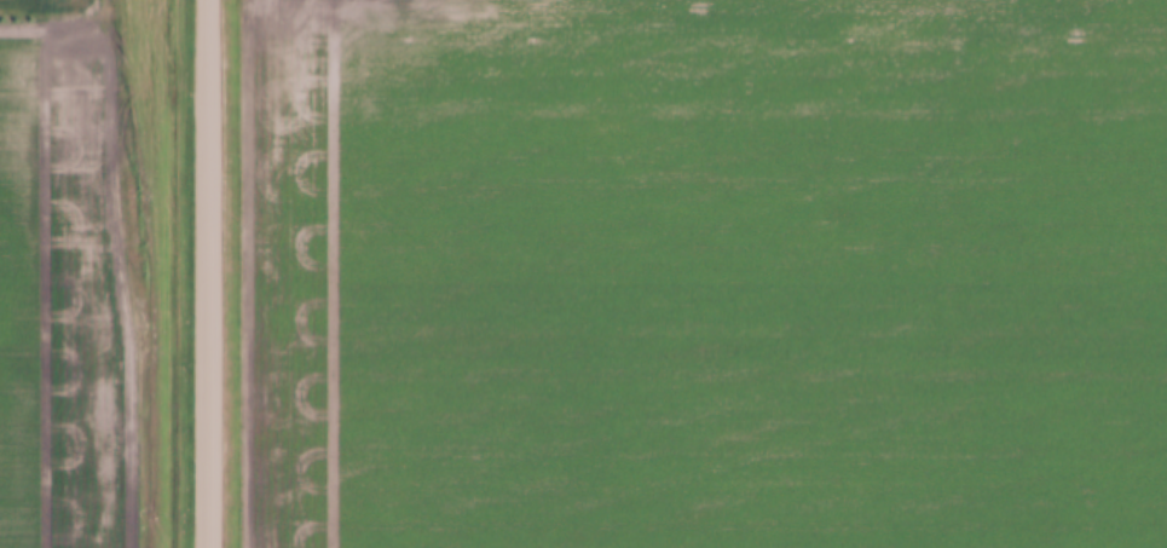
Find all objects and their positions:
road: (204, 273)

